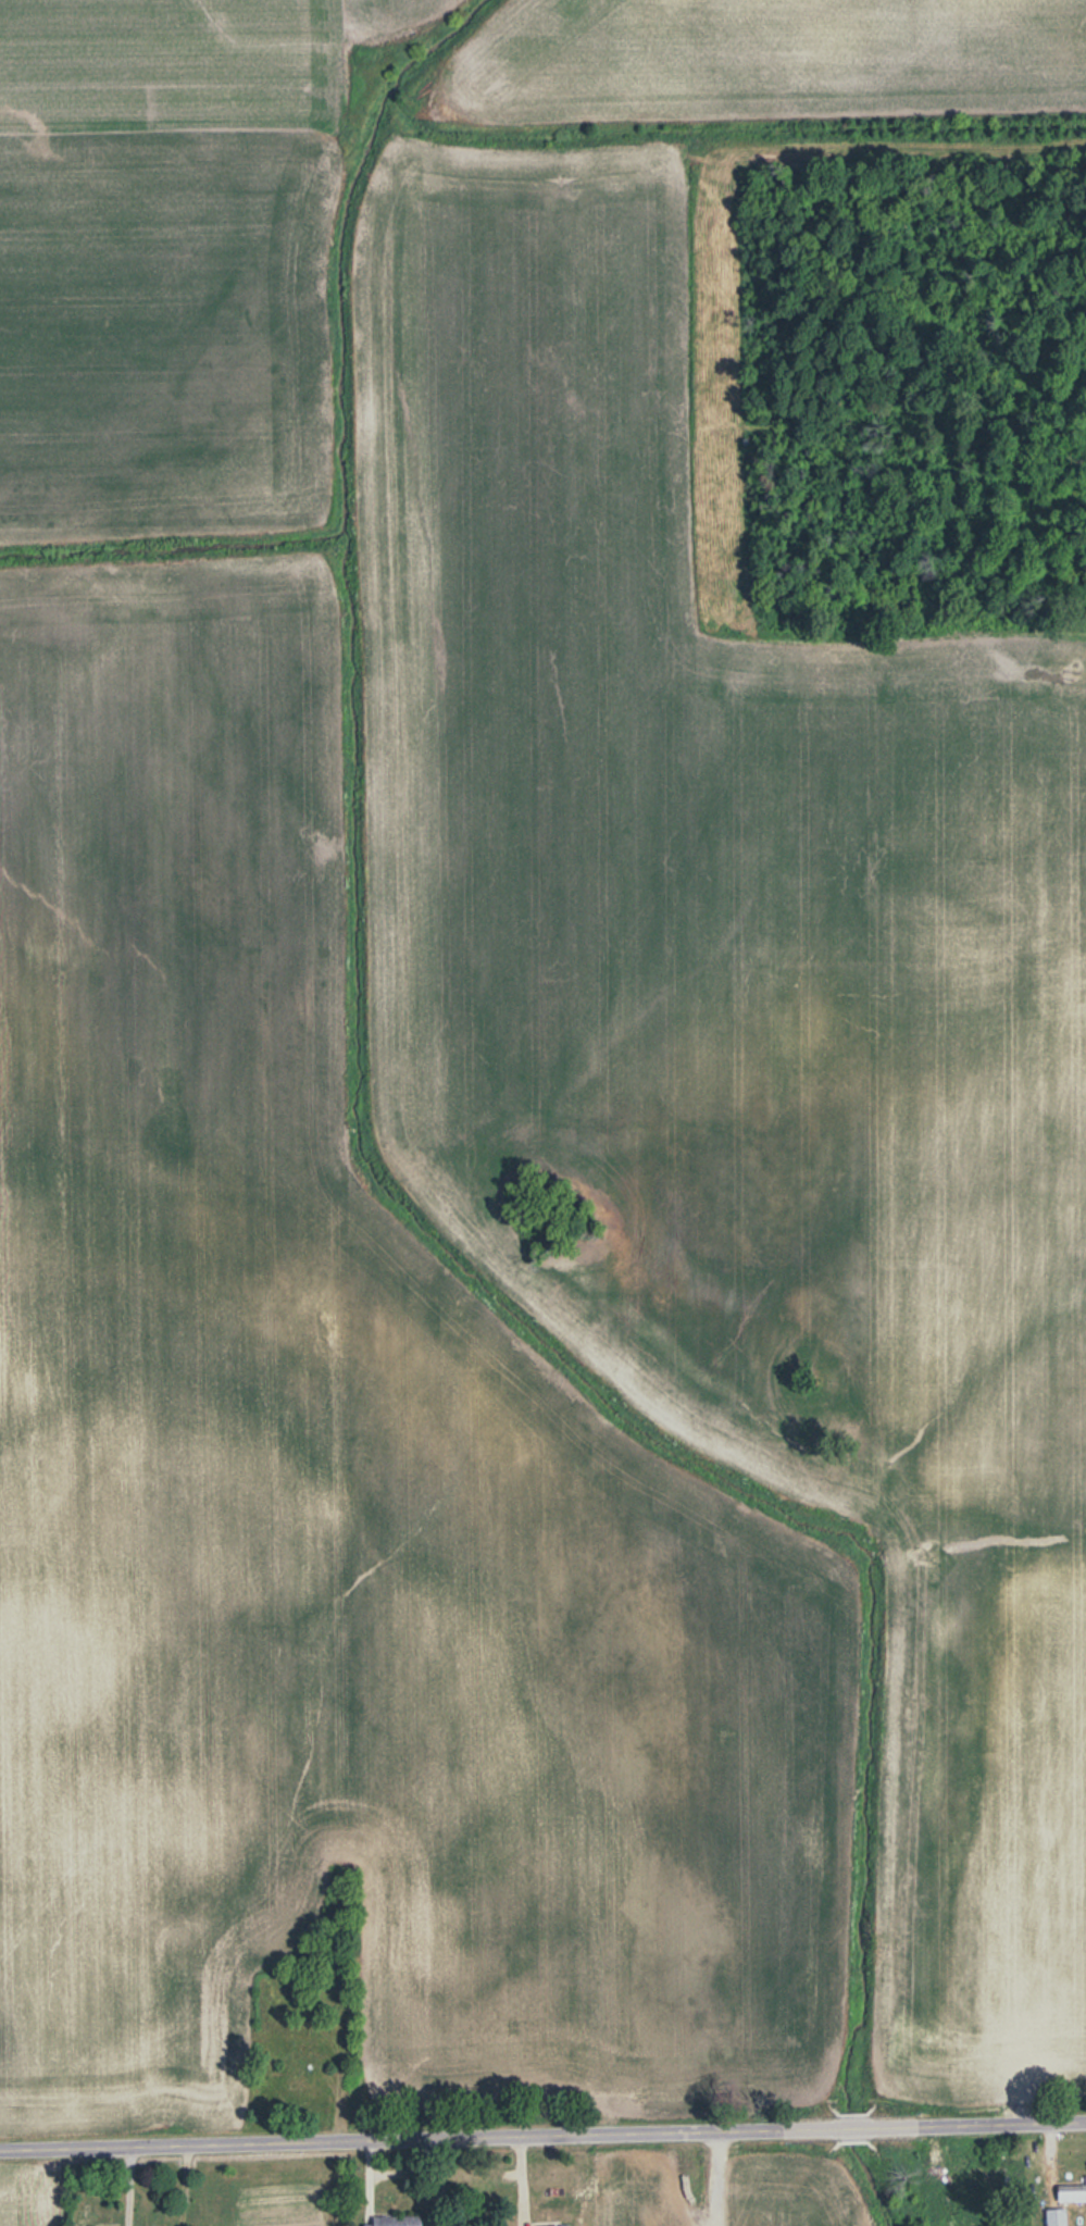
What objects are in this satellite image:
road: (542, 2134)
road: (712, 2177)
building: (1072, 2192)
building: (1056, 2217)
building: (395, 2221)

